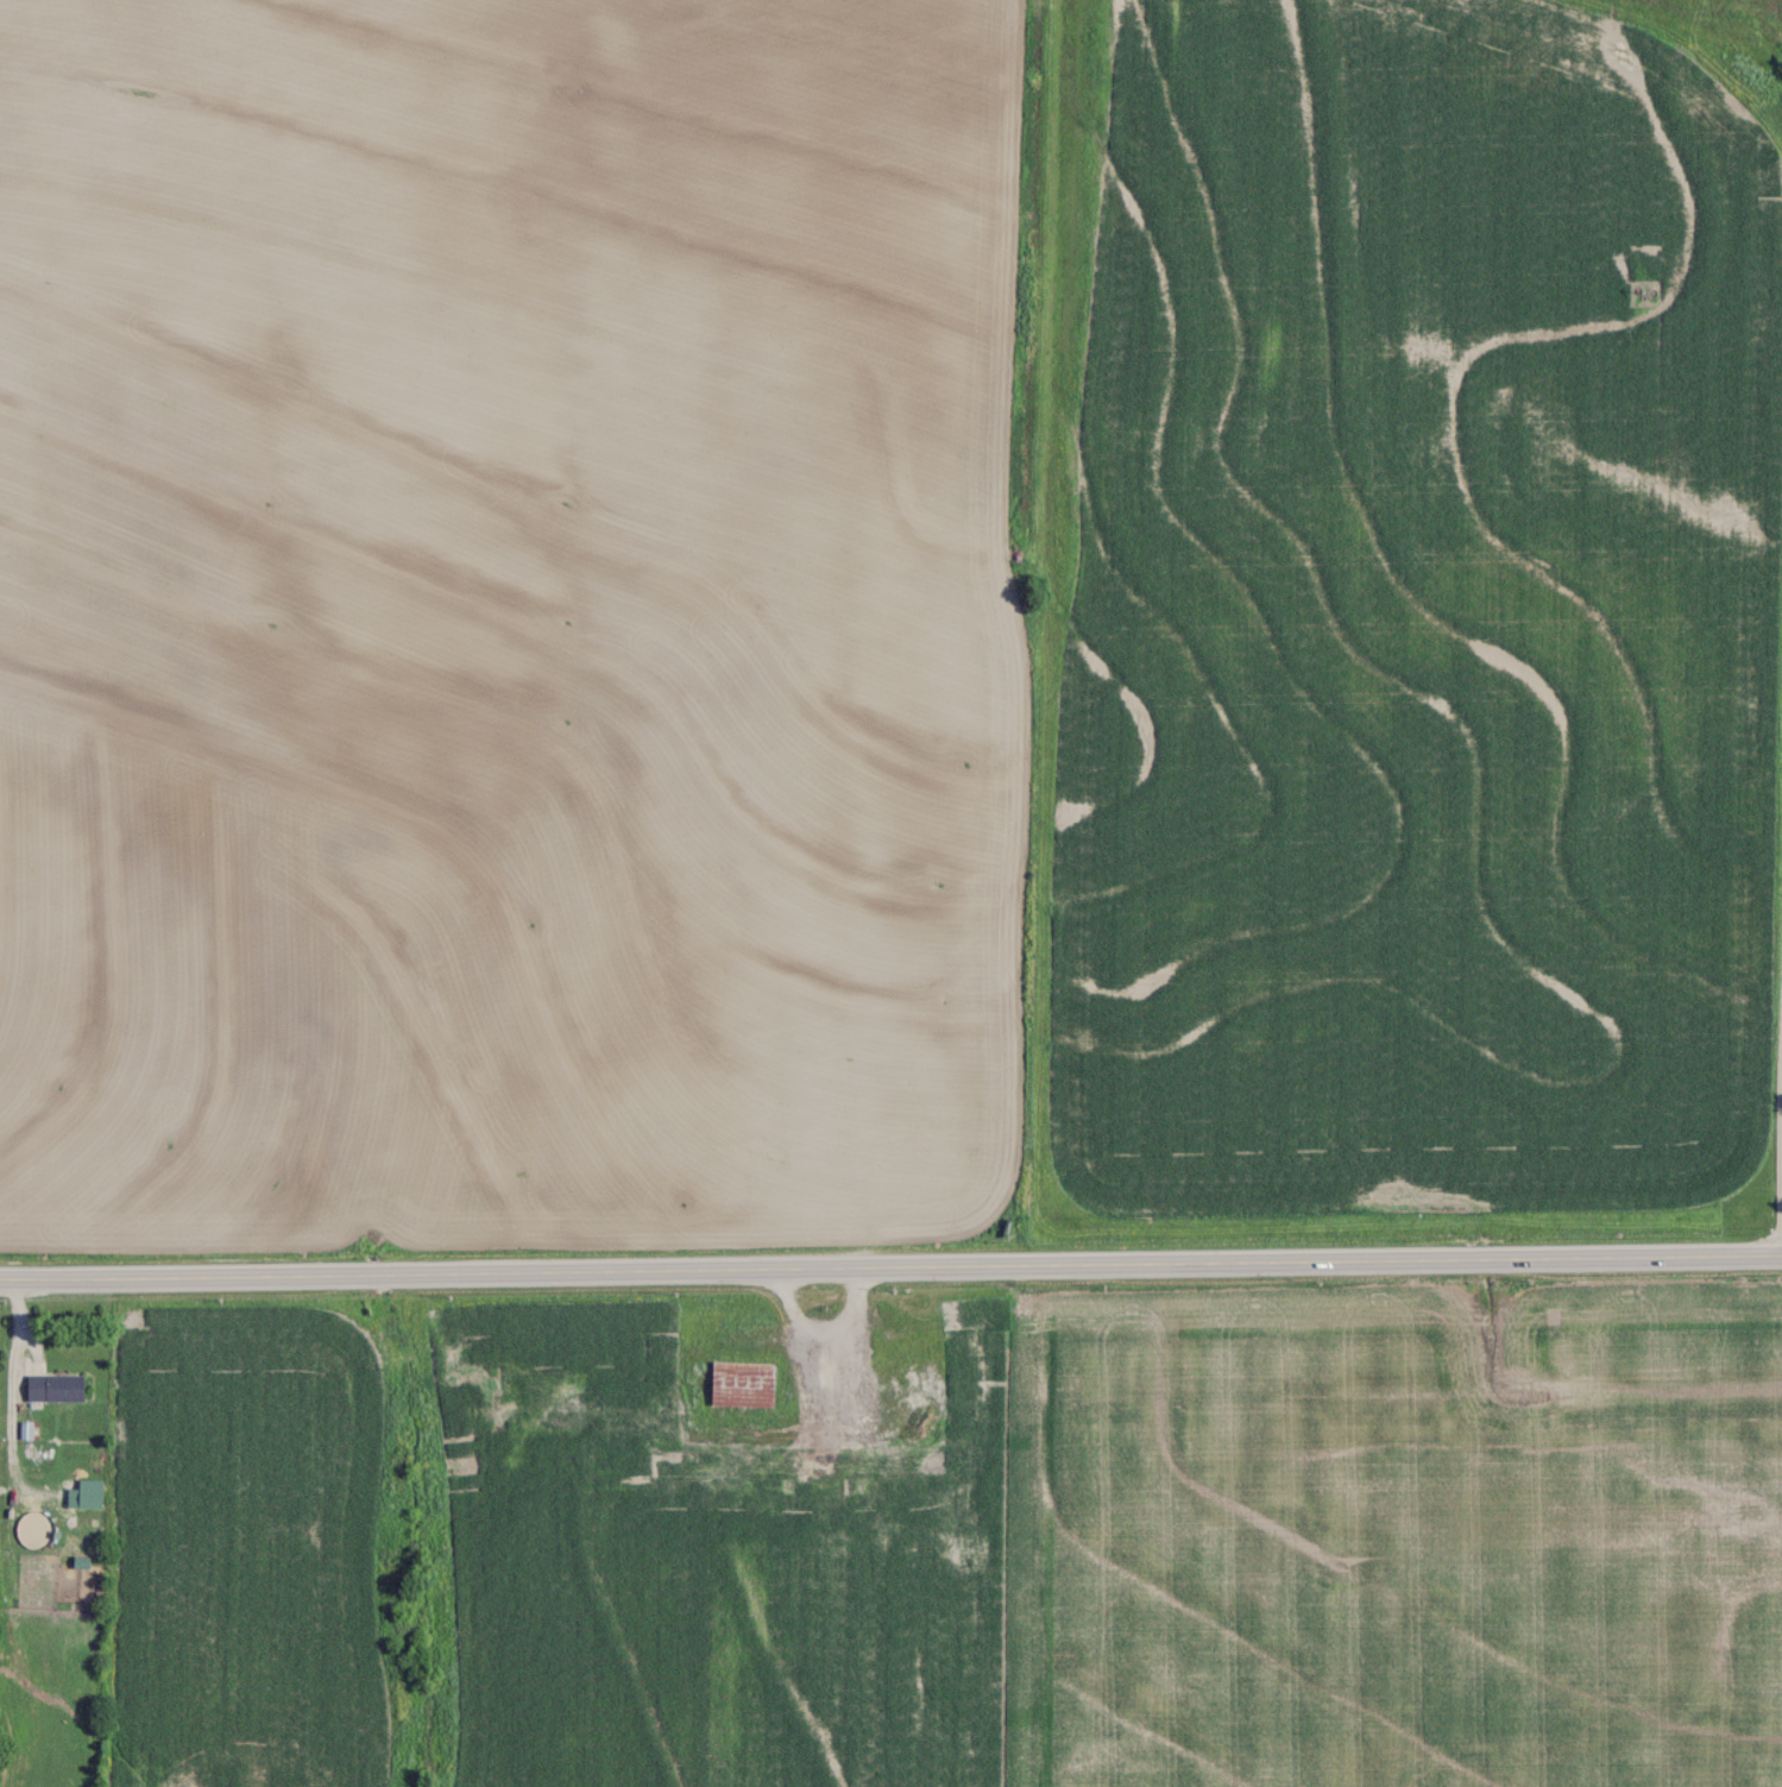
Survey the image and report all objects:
crop: (1410, 624)
crop: (518, 625)
road: (890, 1267)
building: (745, 1385)
building: (58, 1390)
building: (93, 1499)
crop: (1394, 1531)
building: (87, 1559)

